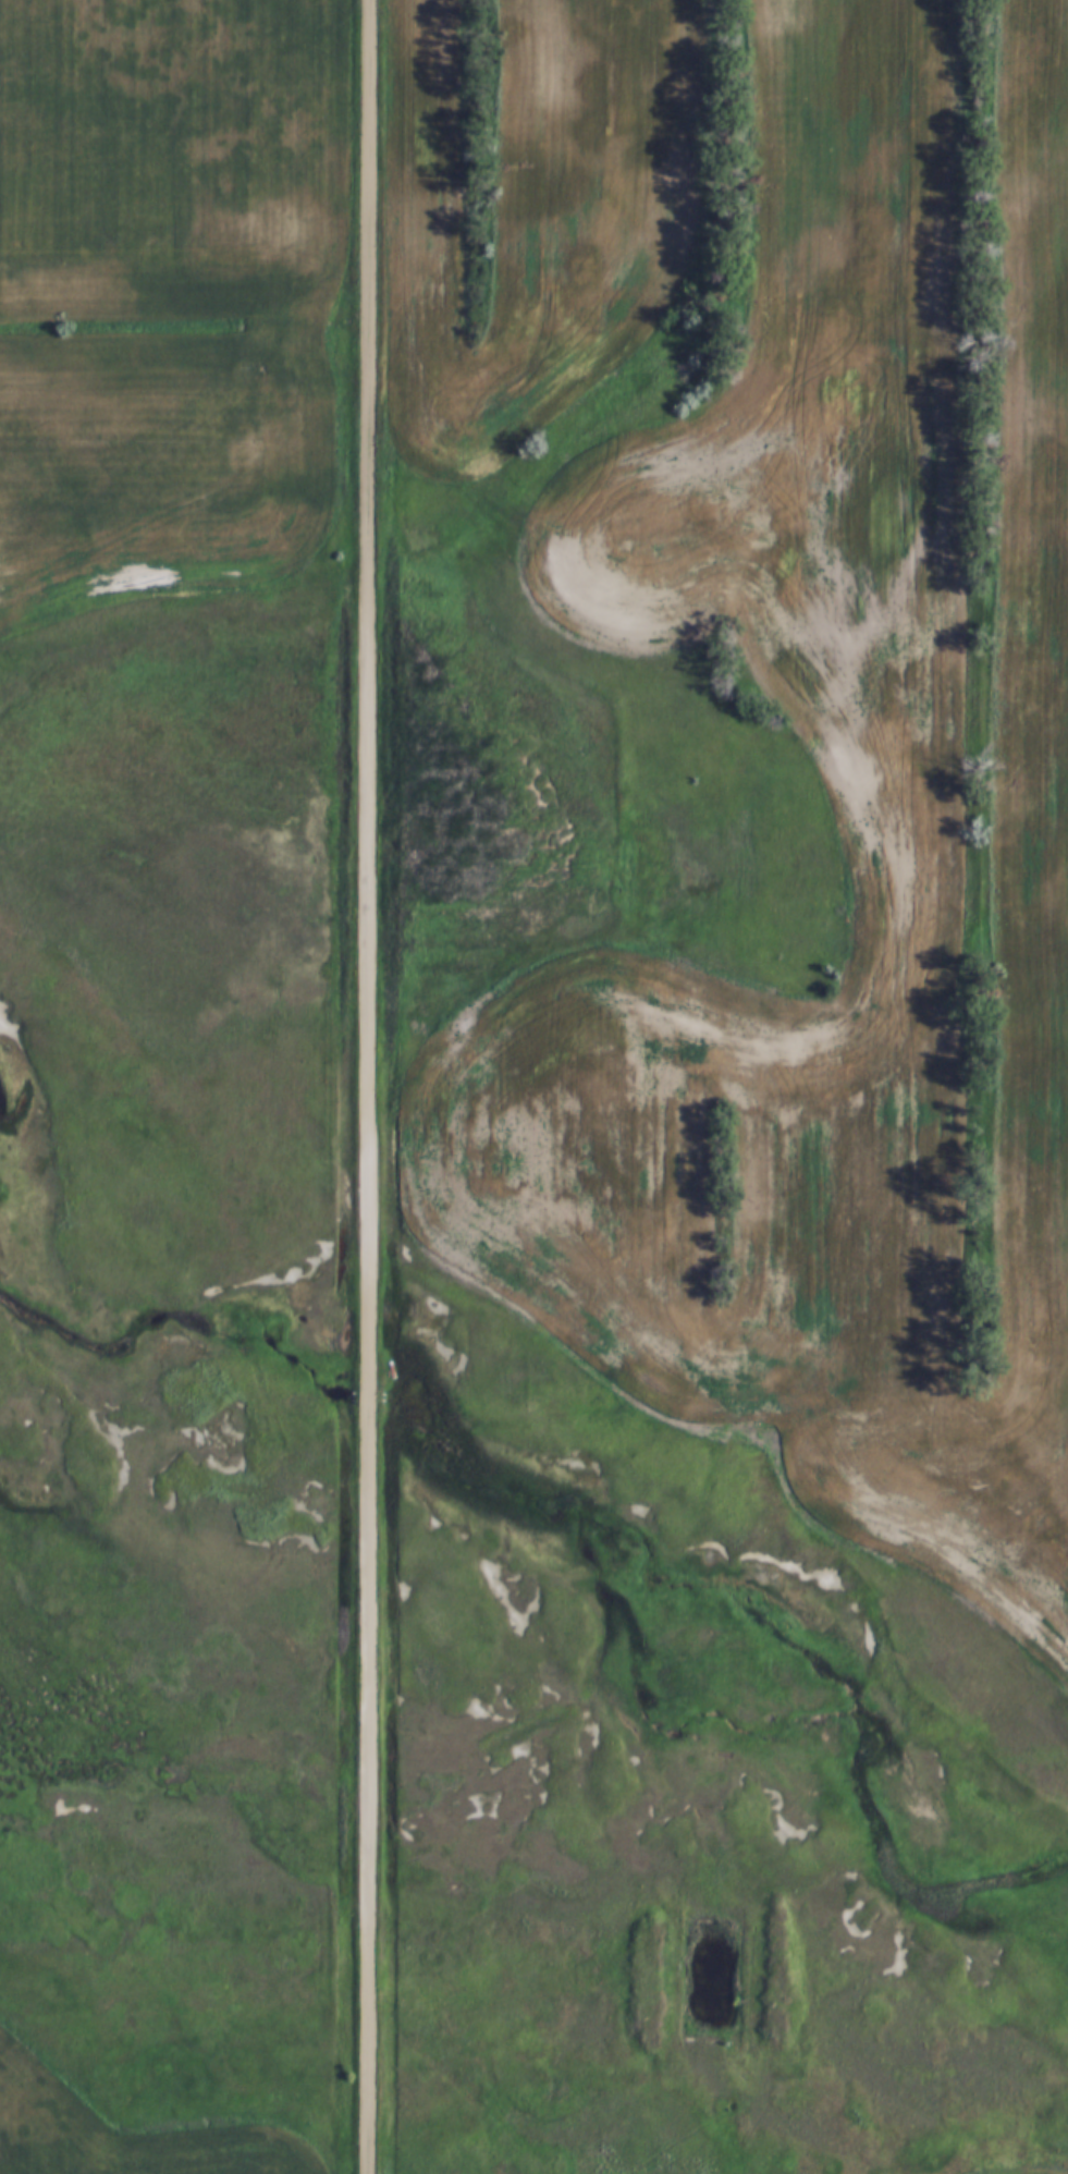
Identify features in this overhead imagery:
road: (367, 1086)

